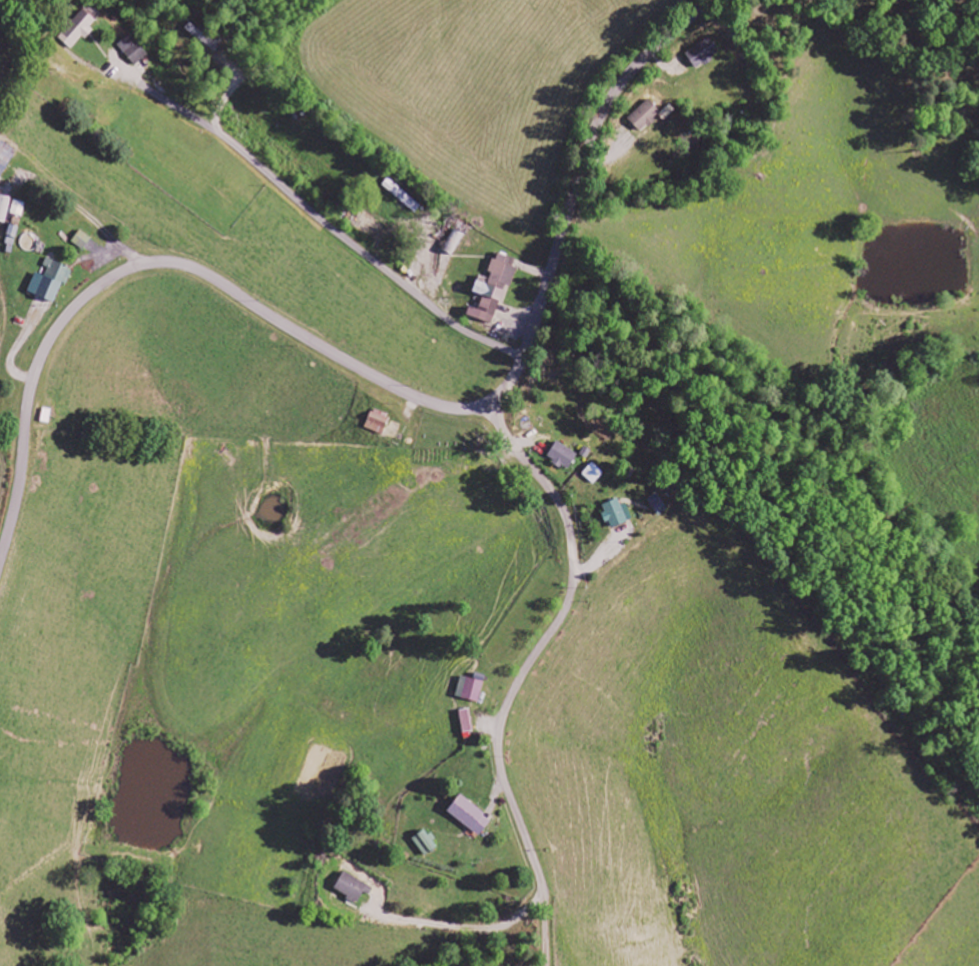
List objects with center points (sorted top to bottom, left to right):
building: (83, 25)
building: (134, 50)
building: (704, 53)
building: (646, 116)
building: (6, 158)
building: (402, 196)
building: (4, 208)
building: (18, 208)
road: (321, 219)
building: (82, 240)
building: (51, 281)
building: (495, 289)
road: (367, 373)
building: (379, 422)
building: (394, 430)
building: (564, 457)
building: (594, 474)
building: (617, 514)
road: (523, 672)
building: (471, 690)
building: (467, 722)
building: (471, 815)
building: (425, 843)
building: (354, 887)

